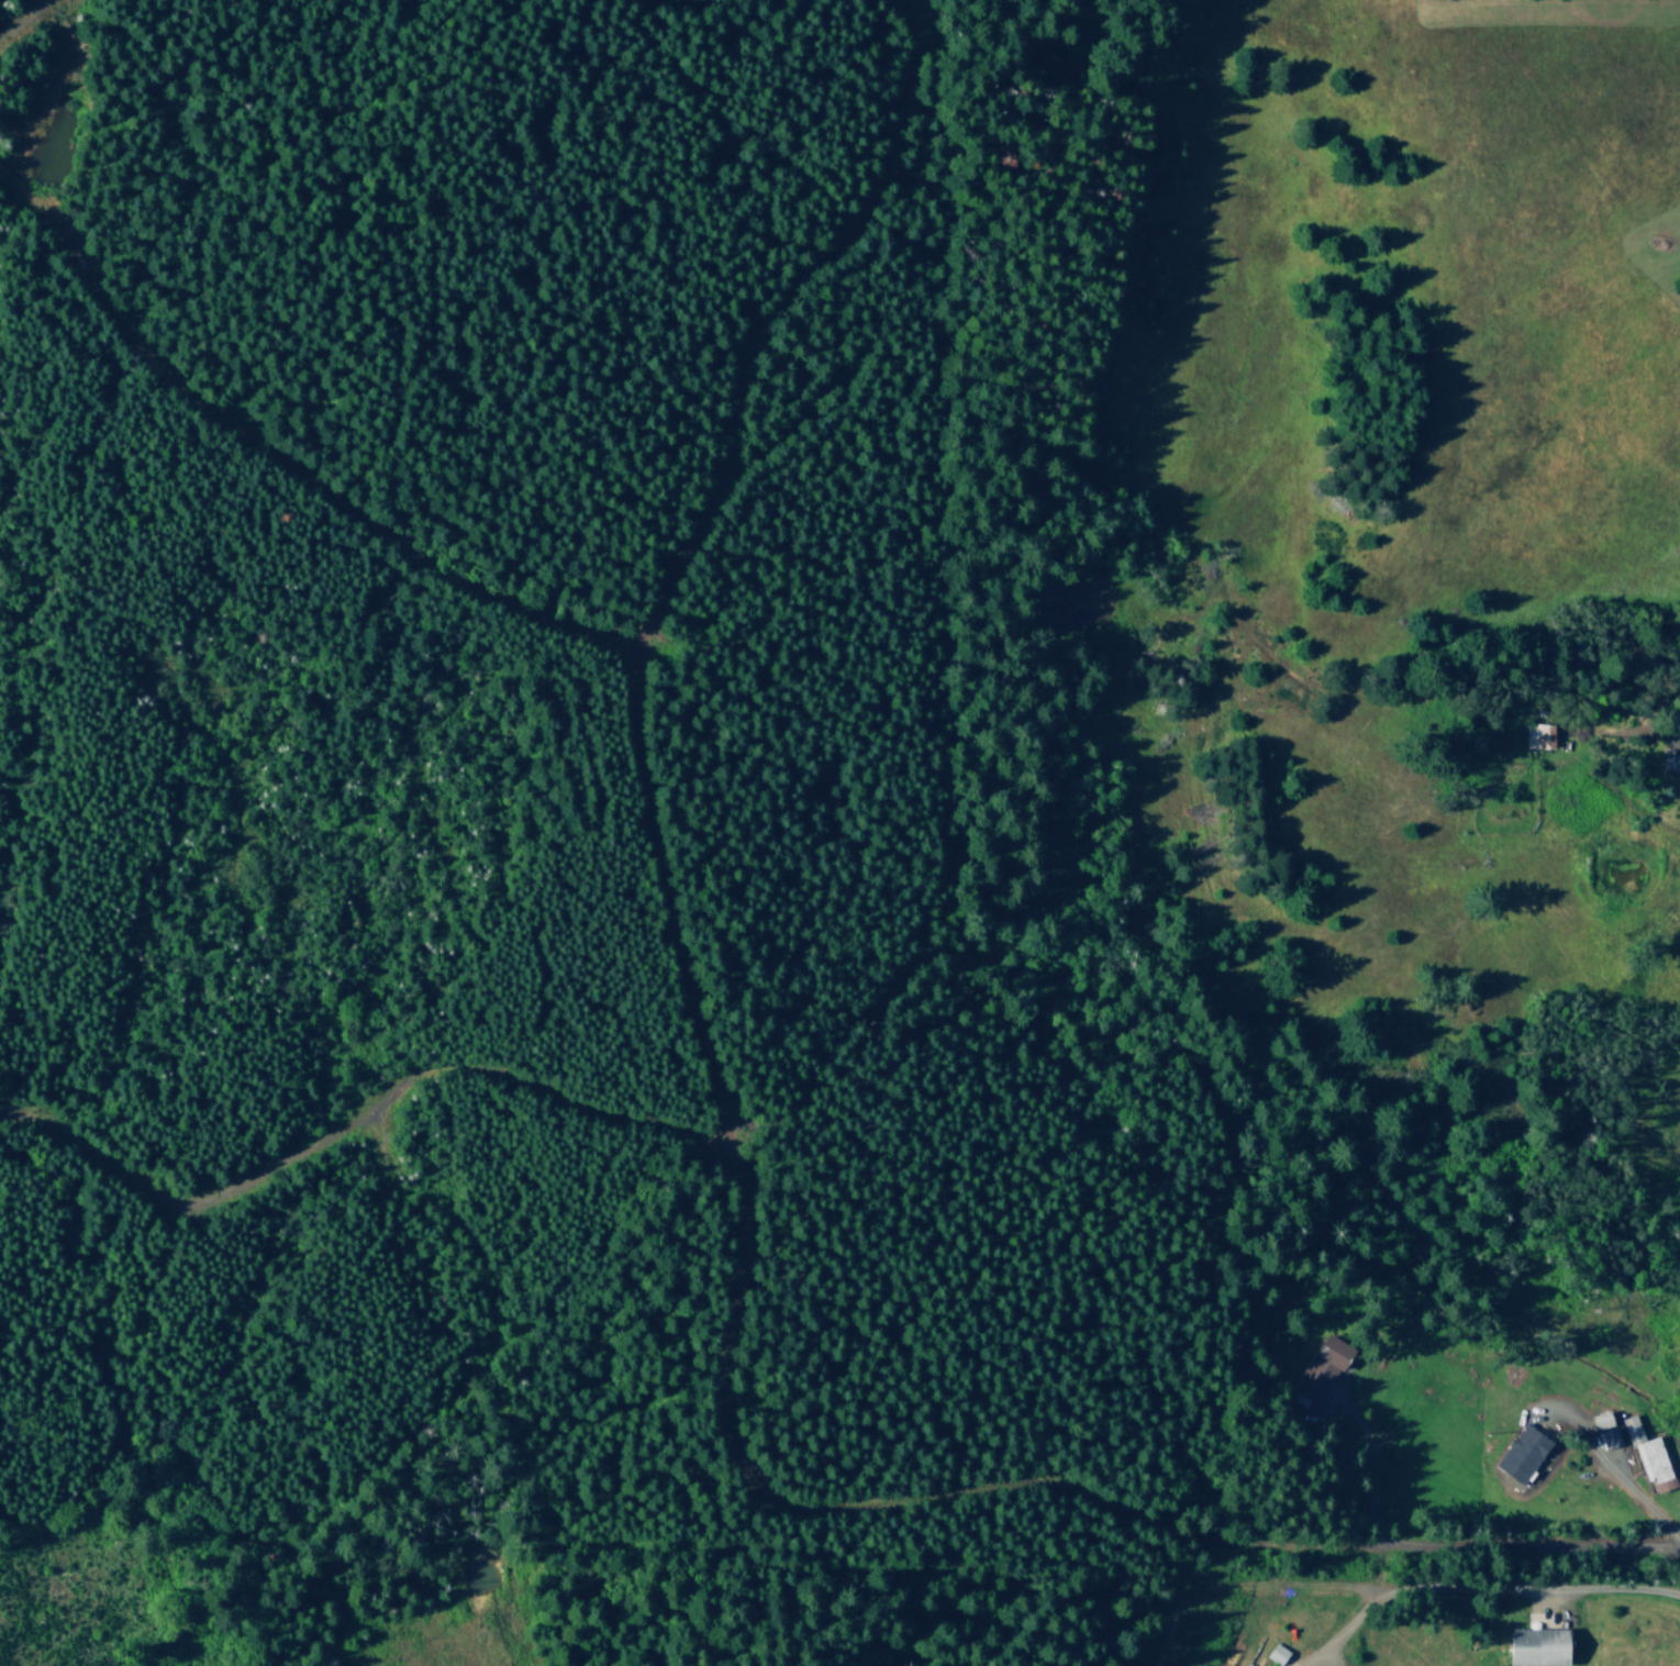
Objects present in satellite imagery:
road: (1678, 734)
building: (1539, 735)
building: (1668, 759)
building: (1314, 1367)
building: (1598, 1419)
building: (1605, 1436)
building: (1516, 1453)
building: (1647, 1455)
road: (1487, 1586)
building: (1533, 1646)
building: (1273, 1653)

